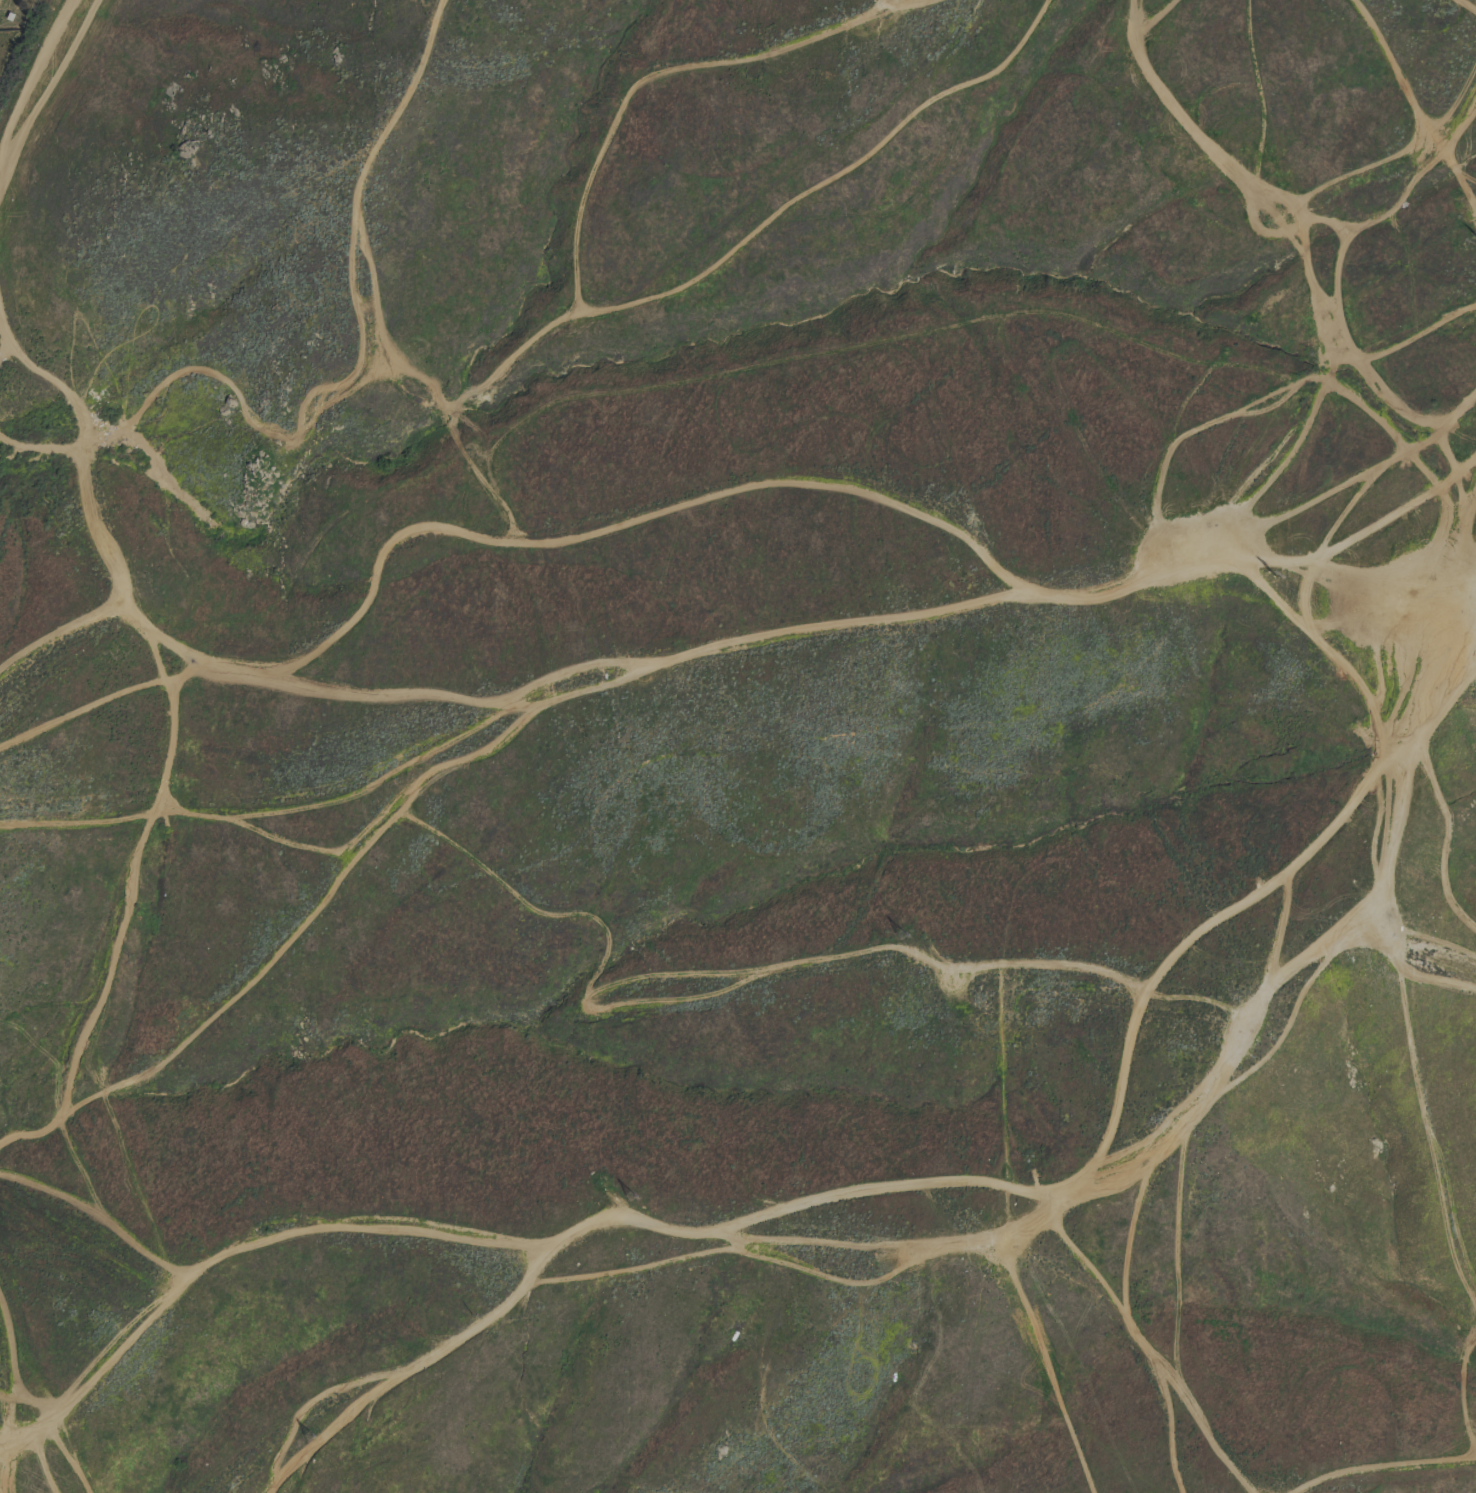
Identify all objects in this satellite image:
road: (1464, 7)
road: (762, 483)
road: (1439, 697)
road: (121, 932)
road: (7, 1441)

